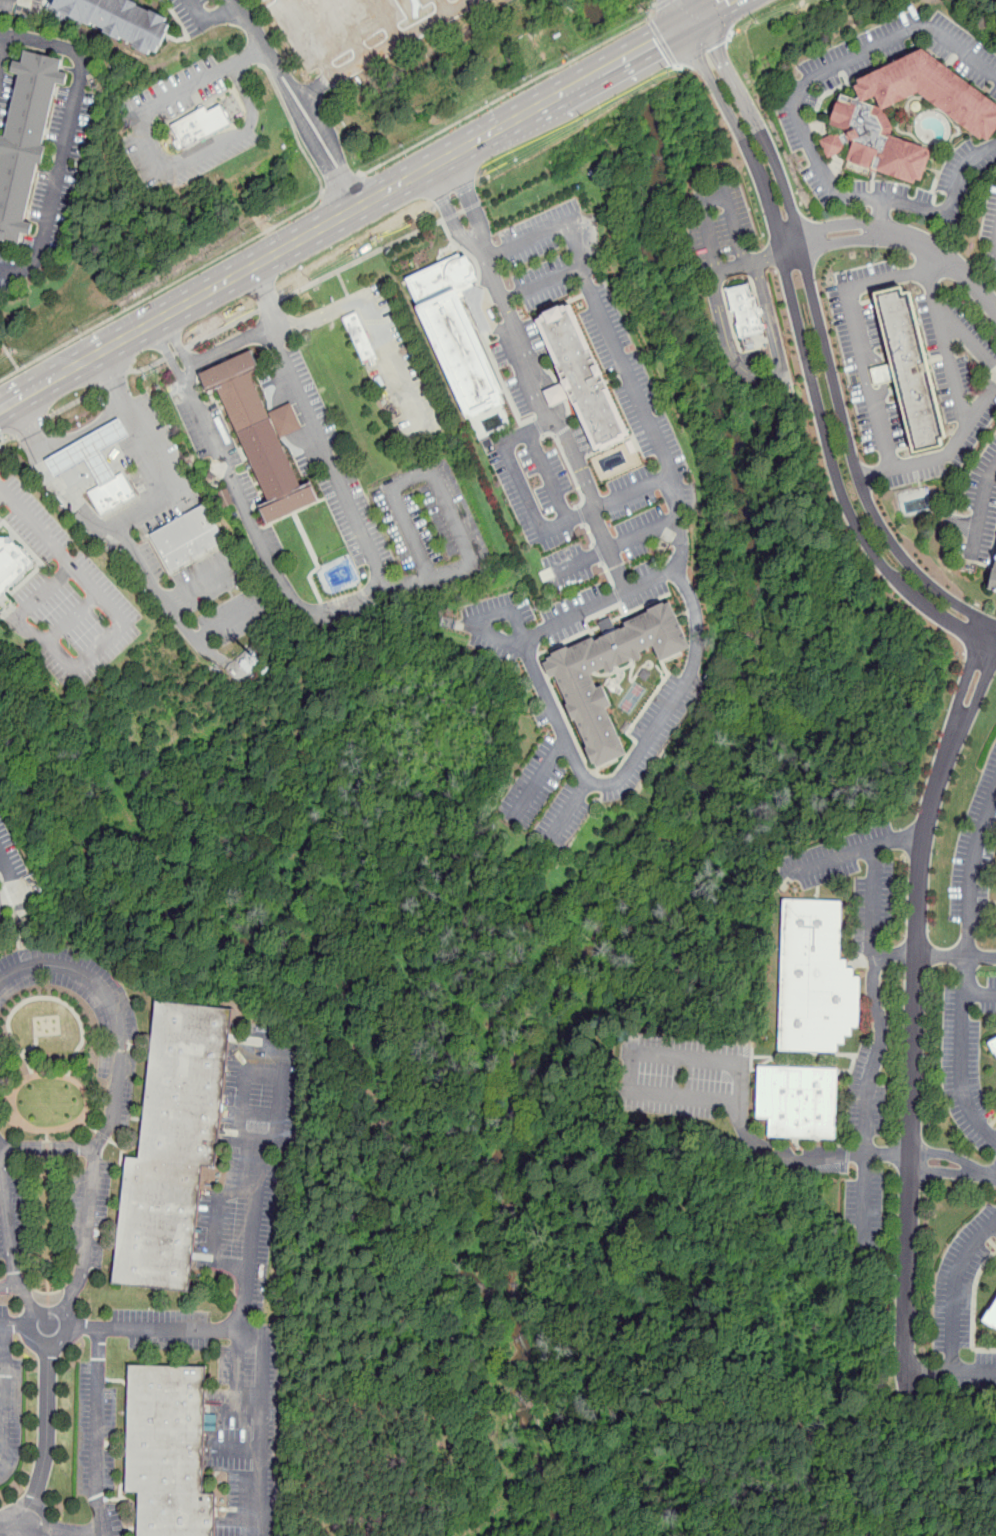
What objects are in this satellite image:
parking lot: (18, 6)
road: (662, 6)
road: (440, 7)
road: (685, 9)
road: (707, 9)
parking lot: (193, 15)
road: (209, 15)
building: (121, 19)
road: (386, 19)
traffic signals: (690, 19)
road: (250, 24)
road: (348, 29)
parking lot: (358, 29)
road: (3, 36)
road: (307, 38)
road: (662, 42)
road: (386, 46)
road: (3, 51)
road: (716, 51)
parking lot: (904, 52)
road: (624, 57)
road: (284, 70)
road: (825, 70)
road: (278, 75)
parking lot: (4, 92)
road: (508, 94)
road: (523, 114)
building: (859, 115)
parking lot: (140, 122)
building: (200, 124)
road: (321, 124)
road: (756, 125)
road: (65, 140)
building: (27, 141)
road: (150, 148)
parking lot: (811, 149)
road: (321, 156)
parking lot: (965, 176)
road: (352, 179)
road: (341, 185)
parking lot: (53, 187)
road: (715, 192)
road: (469, 198)
road: (951, 204)
road: (790, 207)
road: (447, 210)
road: (462, 211)
road: (878, 214)
parking lot: (718, 222)
parking lot: (990, 226)
road: (826, 229)
road: (841, 244)
road: (793, 252)
road: (226, 254)
road: (942, 254)
road: (769, 255)
road: (922, 259)
road: (362, 260)
road: (736, 264)
road: (244, 271)
road: (940, 272)
road: (540, 285)
parking lot: (541, 288)
road: (270, 305)
building: (745, 315)
road: (377, 325)
road: (958, 328)
road: (223, 329)
building: (456, 332)
road: (857, 334)
building: (360, 337)
road: (227, 345)
parking lot: (867, 352)
road: (175, 353)
road: (9, 355)
road: (807, 359)
road: (951, 366)
road: (147, 367)
building: (907, 369)
parking lot: (397, 375)
building: (584, 377)
road: (114, 379)
road: (764, 379)
parking lot: (951, 387)
road: (556, 390)
road: (73, 403)
parking lot: (647, 419)
parking lot: (205, 424)
road: (30, 428)
road: (317, 429)
road: (80, 433)
road: (0, 434)
building: (260, 437)
road: (2, 439)
parking lot: (581, 439)
road: (6, 441)
road: (943, 455)
parking lot: (327, 457)
road: (855, 468)
road: (549, 474)
building: (112, 492)
road: (3, 494)
parking lot: (980, 508)
road: (980, 509)
road: (131, 511)
parking lot: (0, 520)
road: (541, 527)
parking lot: (433, 530)
building: (187, 538)
road: (612, 547)
parking lot: (603, 550)
road: (679, 553)
building: (13, 562)
building: (993, 577)
parking lot: (209, 578)
parking lot: (66, 597)
road: (162, 598)
parking lot: (603, 601)
road: (348, 602)
road: (28, 604)
parking lot: (238, 616)
road: (476, 620)
road: (121, 622)
parking lot: (501, 626)
road: (209, 631)
road: (212, 651)
building: (572, 680)
parking lot: (556, 757)
road: (539, 779)
road: (587, 784)
road: (568, 812)
parking lot: (9, 854)
parking lot: (975, 858)
road: (830, 859)
road: (971, 870)
road: (14, 882)
parking lot: (874, 887)
parking lot: (1, 909)
road: (24, 930)
road: (919, 955)
road: (981, 956)
building: (814, 977)
road: (980, 993)
road: (912, 994)
road: (881, 1022)
parking lot: (125, 1038)
building: (995, 1038)
building: (994, 1044)
road: (962, 1053)
parking lot: (967, 1062)
road: (632, 1071)
parking lot: (684, 1077)
road: (114, 1093)
parking lot: (867, 1094)
building: (797, 1100)
road: (270, 1142)
building: (175, 1145)
road: (49, 1147)
road: (788, 1155)
parking lot: (995, 1160)
road: (953, 1167)
parking lot: (866, 1209)
parking lot: (89, 1210)
parking lot: (12, 1213)
road: (10, 1228)
road: (216, 1229)
parking lot: (961, 1282)
road: (8, 1286)
road: (955, 1288)
parking lot: (241, 1289)
road: (64, 1308)
building: (992, 1316)
road: (13, 1321)
road: (85, 1327)
parking lot: (5, 1334)
road: (263, 1350)
road: (928, 1371)
parking lot: (968, 1371)
road: (973, 1371)
road: (8, 1393)
road: (240, 1409)
parking lot: (10, 1416)
road: (95, 1432)
parking lot: (96, 1432)
road: (234, 1448)
building: (170, 1450)
road: (46, 1453)
parking lot: (106, 1517)
road: (64, 1531)

